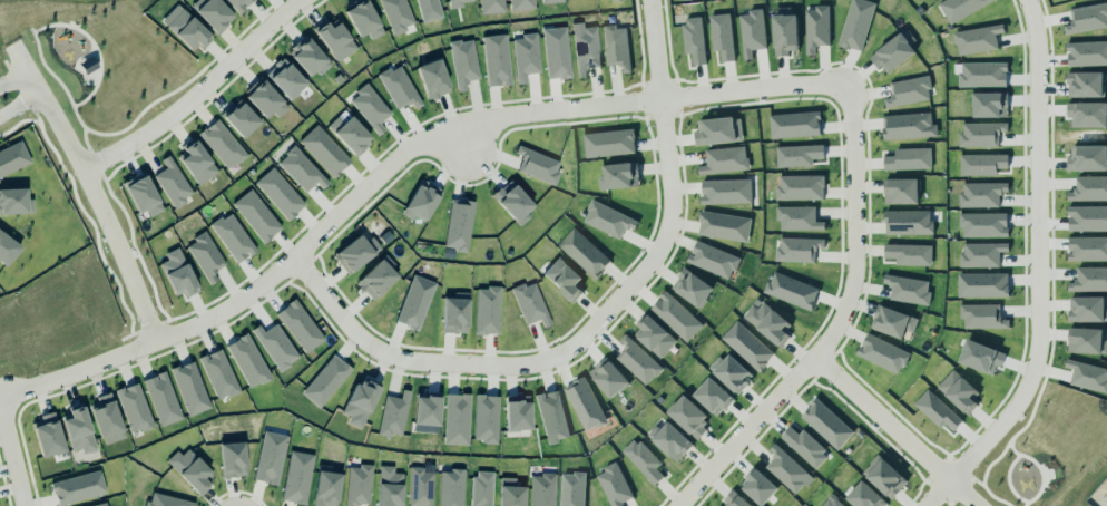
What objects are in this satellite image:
building: (601, 0)
building: (549, 1)
building: (455, 3)
building: (238, 4)
building: (520, 4)
building: (490, 6)
building: (959, 8)
building: (428, 10)
building: (212, 12)
building: (396, 14)
building: (1087, 18)
building: (363, 20)
building: (856, 23)
building: (816, 27)
building: (185, 28)
building: (750, 29)
road: (30, 30)
building: (785, 33)
building: (722, 36)
building: (977, 38)
building: (335, 40)
road: (94, 46)
building: (616, 46)
building: (585, 48)
building: (890, 48)
building: (556, 52)
building: (1087, 52)
building: (307, 57)
building: (525, 57)
building: (496, 60)
building: (462, 62)
building: (89, 66)
park: (107, 69)
road: (48, 71)
building: (982, 74)
building: (285, 78)
building: (432, 79)
road: (14, 82)
building: (1085, 84)
building: (399, 88)
road: (195, 90)
building: (909, 90)
building: (265, 100)
building: (989, 103)
road: (149, 104)
building: (370, 108)
road: (21, 109)
building: (1087, 114)
road: (76, 118)
building: (241, 119)
building: (794, 124)
building: (908, 125)
building: (717, 130)
building: (981, 133)
building: (349, 134)
road: (82, 139)
building: (607, 139)
building: (222, 144)
building: (324, 150)
building: (797, 154)
building: (12, 158)
building: (722, 158)
building: (909, 158)
building: (1087, 158)
road: (94, 162)
building: (197, 163)
building: (982, 163)
building: (537, 164)
building: (300, 171)
building: (618, 171)
road: (87, 179)
building: (173, 183)
building: (797, 185)
building: (1089, 188)
building: (902, 189)
building: (725, 191)
building: (280, 193)
building: (981, 193)
building: (143, 195)
building: (419, 197)
building: (14, 202)
building: (512, 202)
road: (669, 210)
building: (256, 215)
building: (799, 217)
building: (1087, 217)
building: (608, 218)
building: (908, 221)
building: (455, 222)
building: (722, 222)
building: (983, 223)
road: (325, 226)
building: (233, 237)
road: (849, 239)
building: (797, 247)
building: (1087, 247)
building: (582, 249)
building: (7, 250)
building: (355, 253)
building: (909, 253)
road: (1036, 253)
building: (981, 254)
building: (205, 256)
building: (713, 259)
building: (177, 273)
building: (561, 273)
building: (376, 276)
building: (1089, 279)
building: (982, 284)
building: (692, 285)
building: (908, 288)
building: (791, 290)
building: (413, 301)
building: (530, 303)
building: (1087, 309)
building: (487, 310)
building: (453, 313)
building: (676, 315)
building: (982, 315)
building: (893, 320)
building: (768, 322)
building: (300, 325)
building: (653, 332)
building: (1087, 340)
building: (747, 344)
building: (275, 346)
building: (882, 352)
building: (980, 356)
road: (394, 358)
building: (636, 358)
building: (247, 360)
building: (217, 372)
building: (731, 372)
building: (1088, 374)
building: (324, 378)
building: (608, 378)
building: (189, 389)
building: (959, 390)
building: (713, 396)
building: (98, 397)
building: (161, 399)
building: (360, 401)
building: (585, 403)
building: (133, 405)
building: (513, 409)
building: (937, 409)
building: (391, 411)
building: (425, 412)
road: (1029, 412)
building: (688, 415)
building: (551, 416)
building: (486, 418)
building: (107, 419)
building: (455, 419)
building: (826, 424)
road: (893, 430)
building: (78, 431)
building: (47, 435)
building: (670, 439)
building: (805, 445)
road: (1010, 448)
park: (1042, 449)
road: (16, 453)
building: (84, 455)
building: (270, 457)
building: (233, 459)
building: (643, 459)
road: (991, 459)
building: (787, 469)
building: (190, 470)
road: (958, 475)
road: (1040, 475)
building: (884, 476)
building: (296, 477)
road: (974, 480)
road: (1006, 480)
building: (614, 484)
building: (357, 485)
building: (389, 486)
building: (448, 486)
building: (760, 486)
building: (77, 487)
building: (326, 487)
building: (420, 487)
building: (571, 488)
building: (481, 489)
building: (541, 490)
road: (933, 492)
building: (510, 493)
building: (865, 496)
road: (992, 497)
building: (735, 499)
building: (166, 500)
building: (832, 503)
road: (1023, 504)
building: (100, 505)

